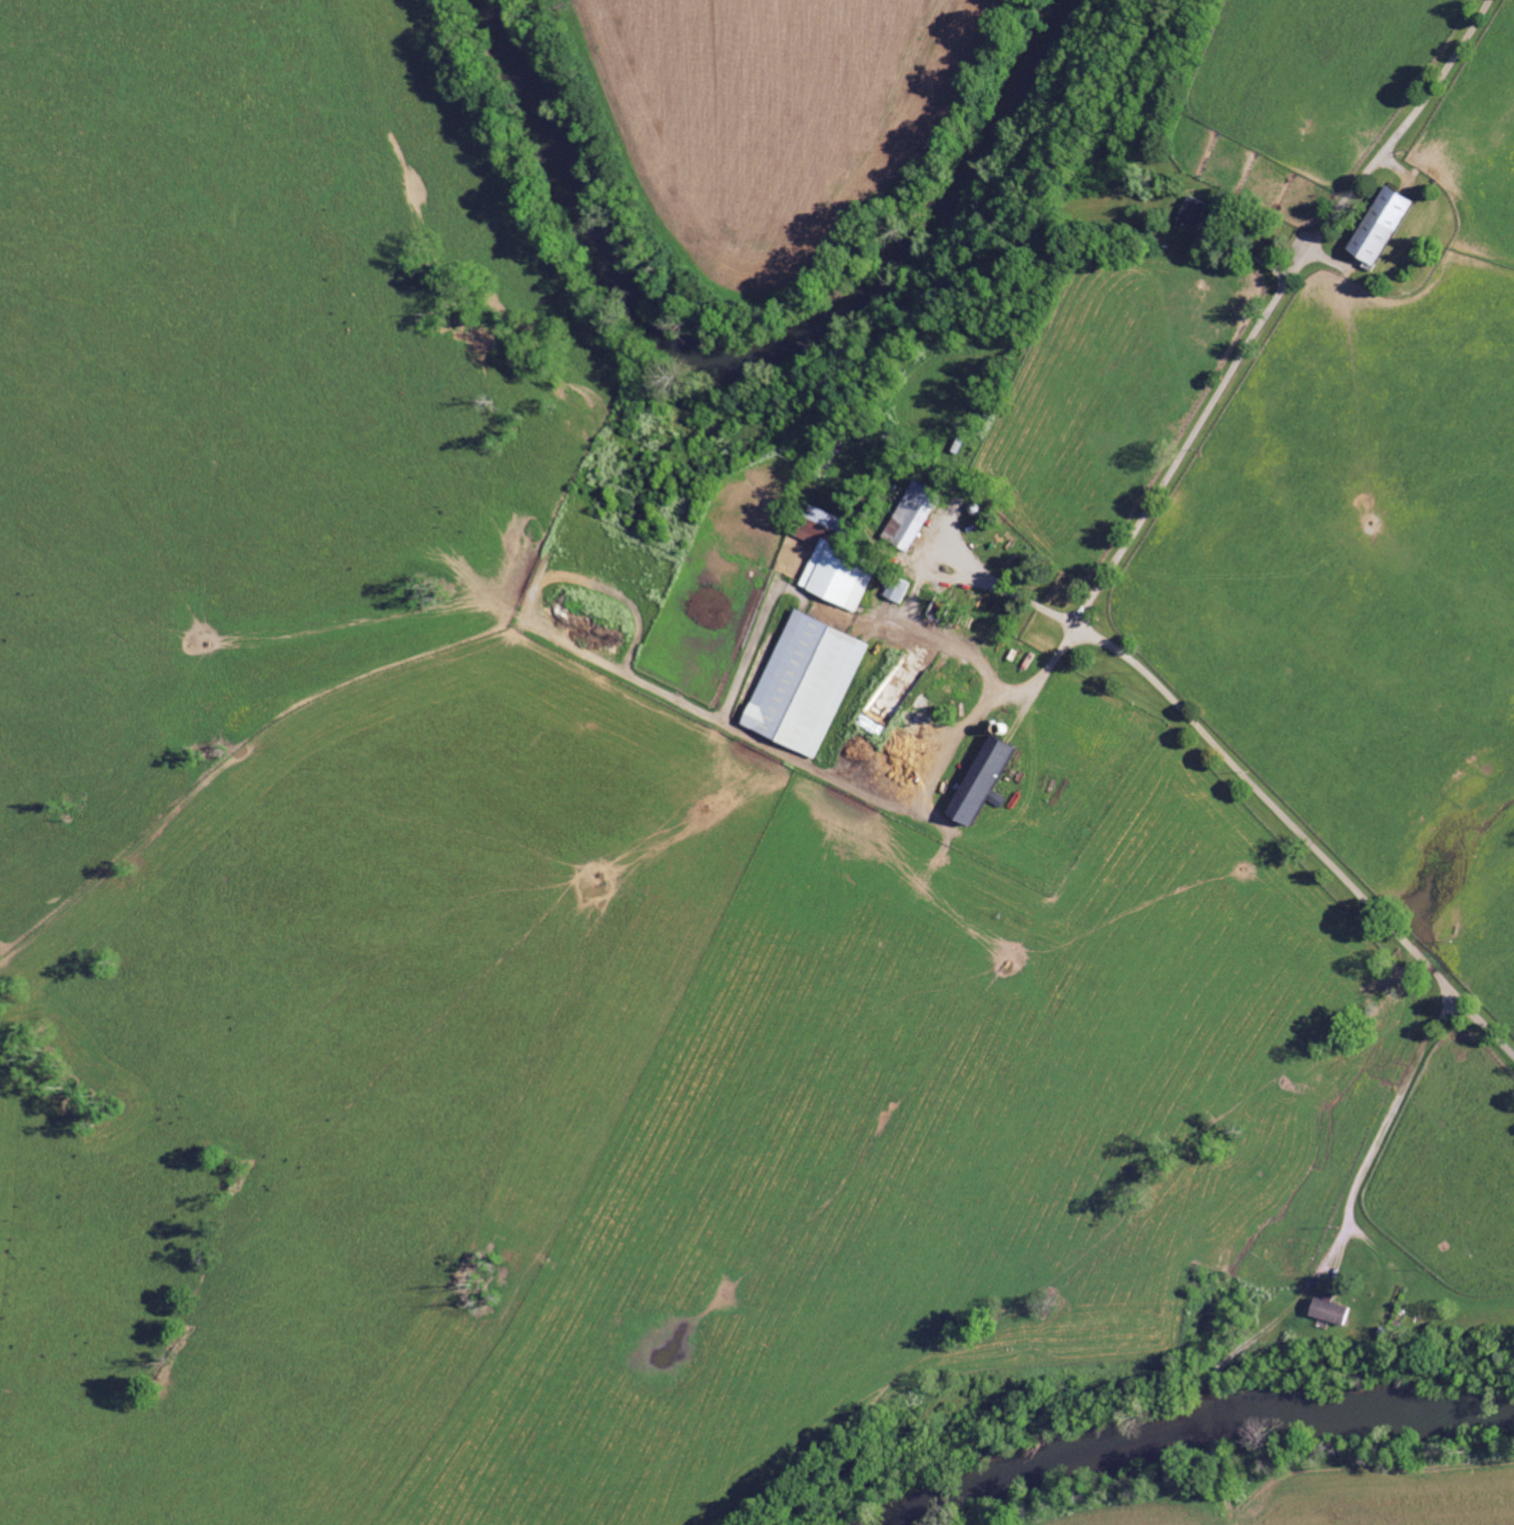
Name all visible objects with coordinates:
building: (1190, 211)
building: (1376, 223)
river: (769, 345)
building: (908, 515)
building: (820, 517)
road: (1112, 565)
building: (834, 577)
building: (894, 589)
road: (970, 657)
road: (1045, 669)
building: (802, 683)
building: (977, 780)
road: (1395, 1102)
building: (1331, 1310)
river: (1196, 1440)

